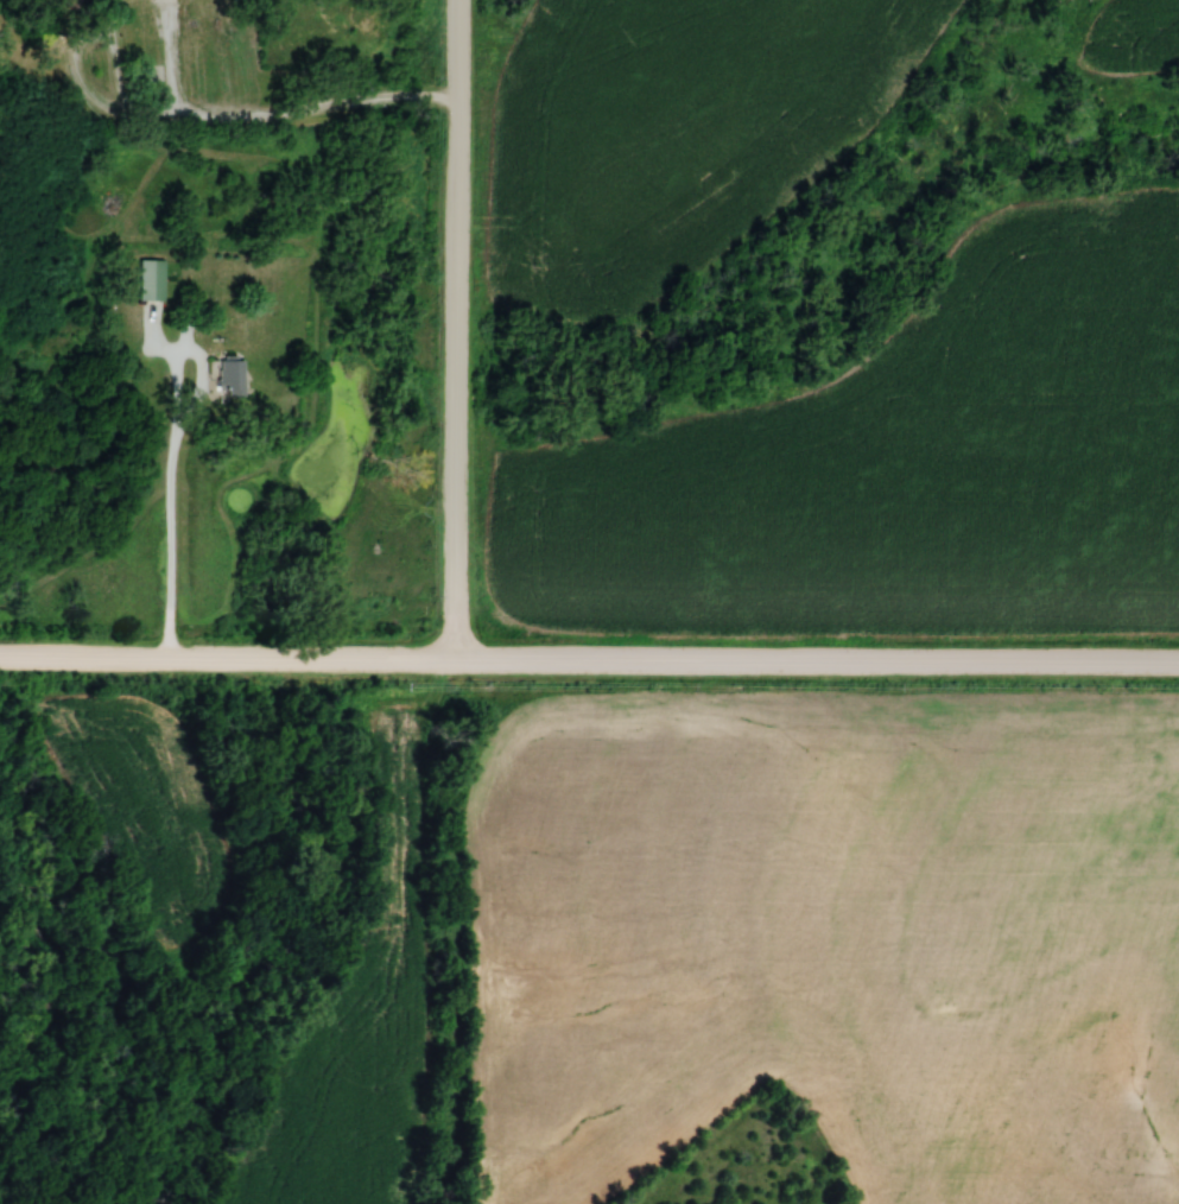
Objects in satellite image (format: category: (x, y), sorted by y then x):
road: (260, 103)
building: (142, 278)
building: (183, 313)
road: (449, 329)
building: (223, 375)
road: (260, 387)
road: (175, 451)
road: (589, 660)

